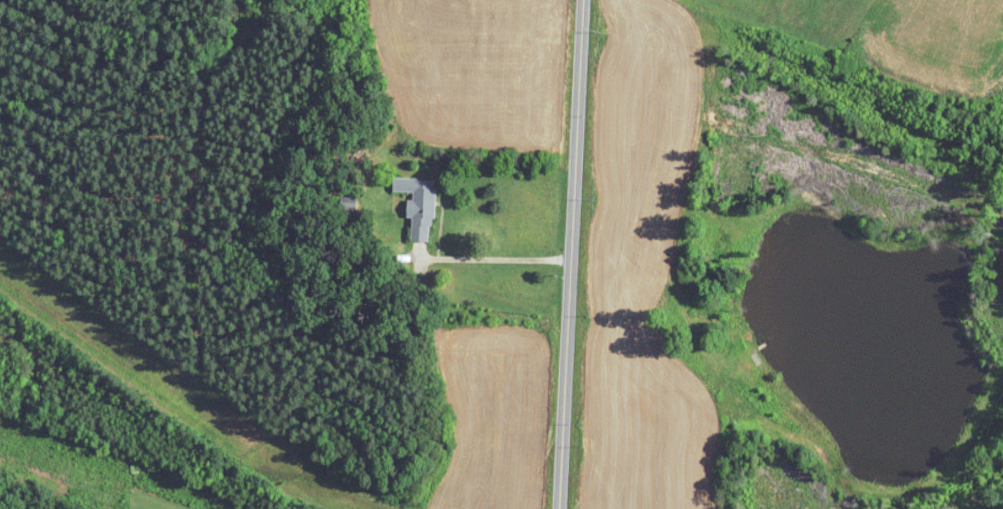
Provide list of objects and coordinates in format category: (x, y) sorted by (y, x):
building: (419, 205)
road: (570, 254)
road: (491, 258)

